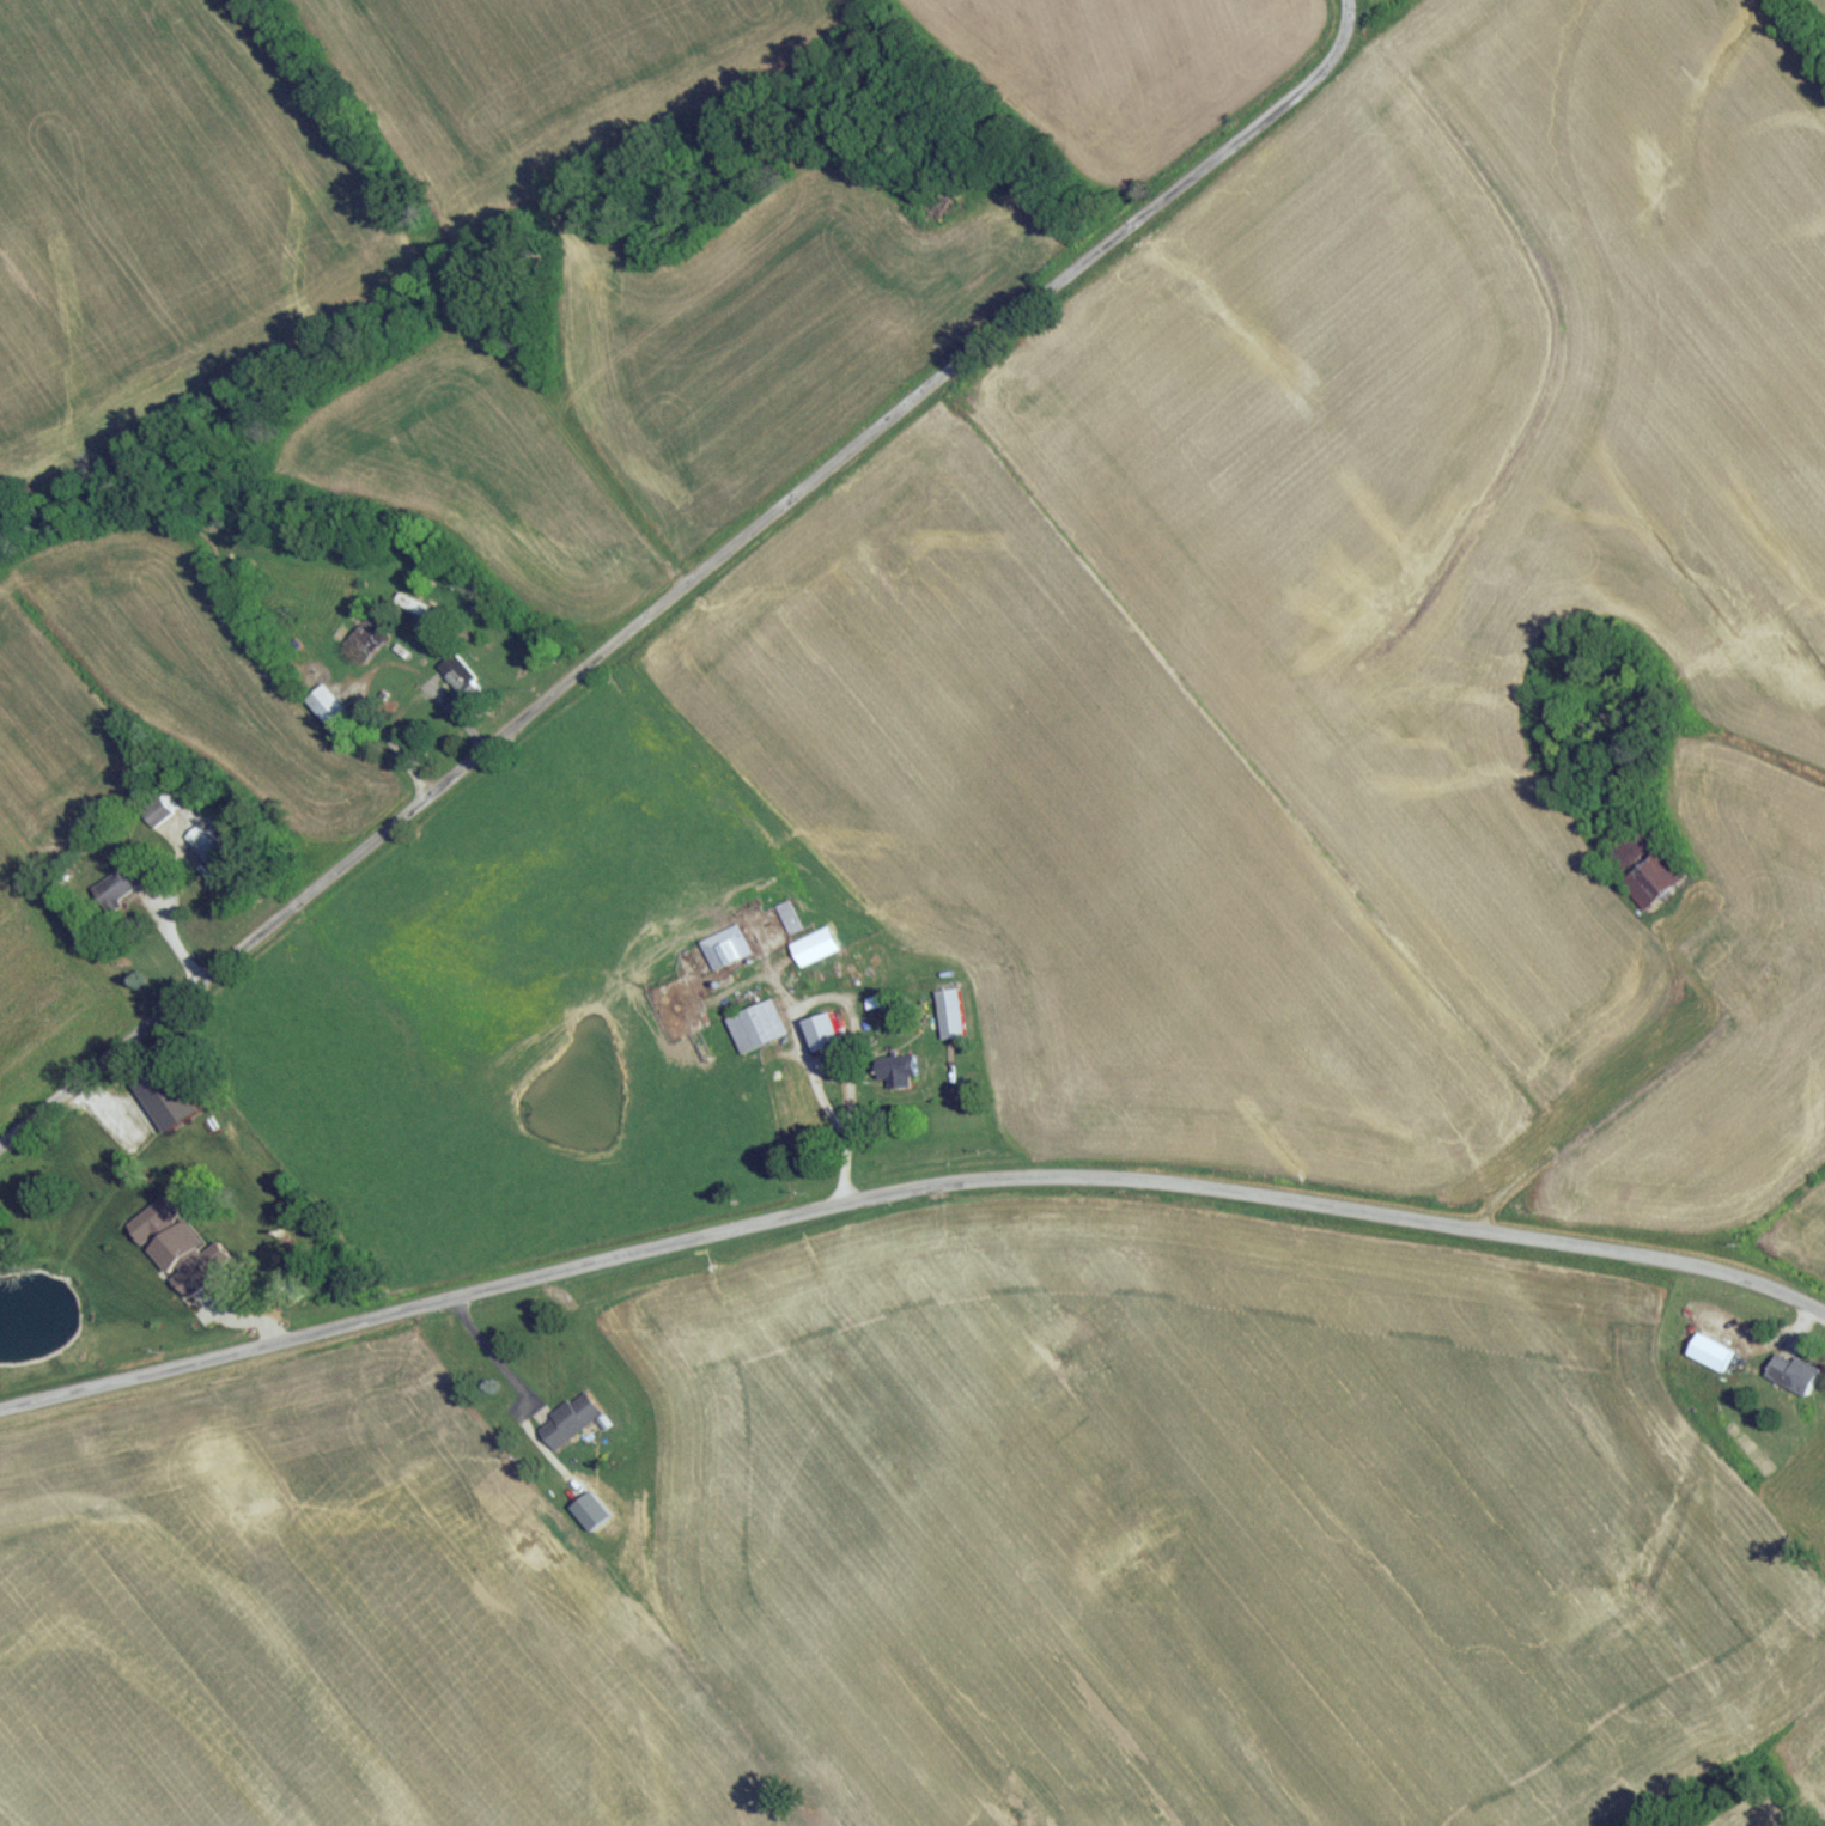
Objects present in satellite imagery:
road: (1353, 2)
road: (689, 586)
building: (410, 611)
building: (366, 647)
building: (462, 686)
building: (333, 718)
building: (157, 820)
building: (206, 852)
building: (1655, 884)
building: (724, 889)
building: (120, 891)
building: (789, 924)
building: (726, 954)
building: (815, 954)
building: (950, 1021)
building: (758, 1034)
building: (825, 1039)
road: (1650, 1096)
road: (827, 1109)
road: (908, 1194)
road: (493, 1361)
building: (1794, 1380)
building: (571, 1428)

